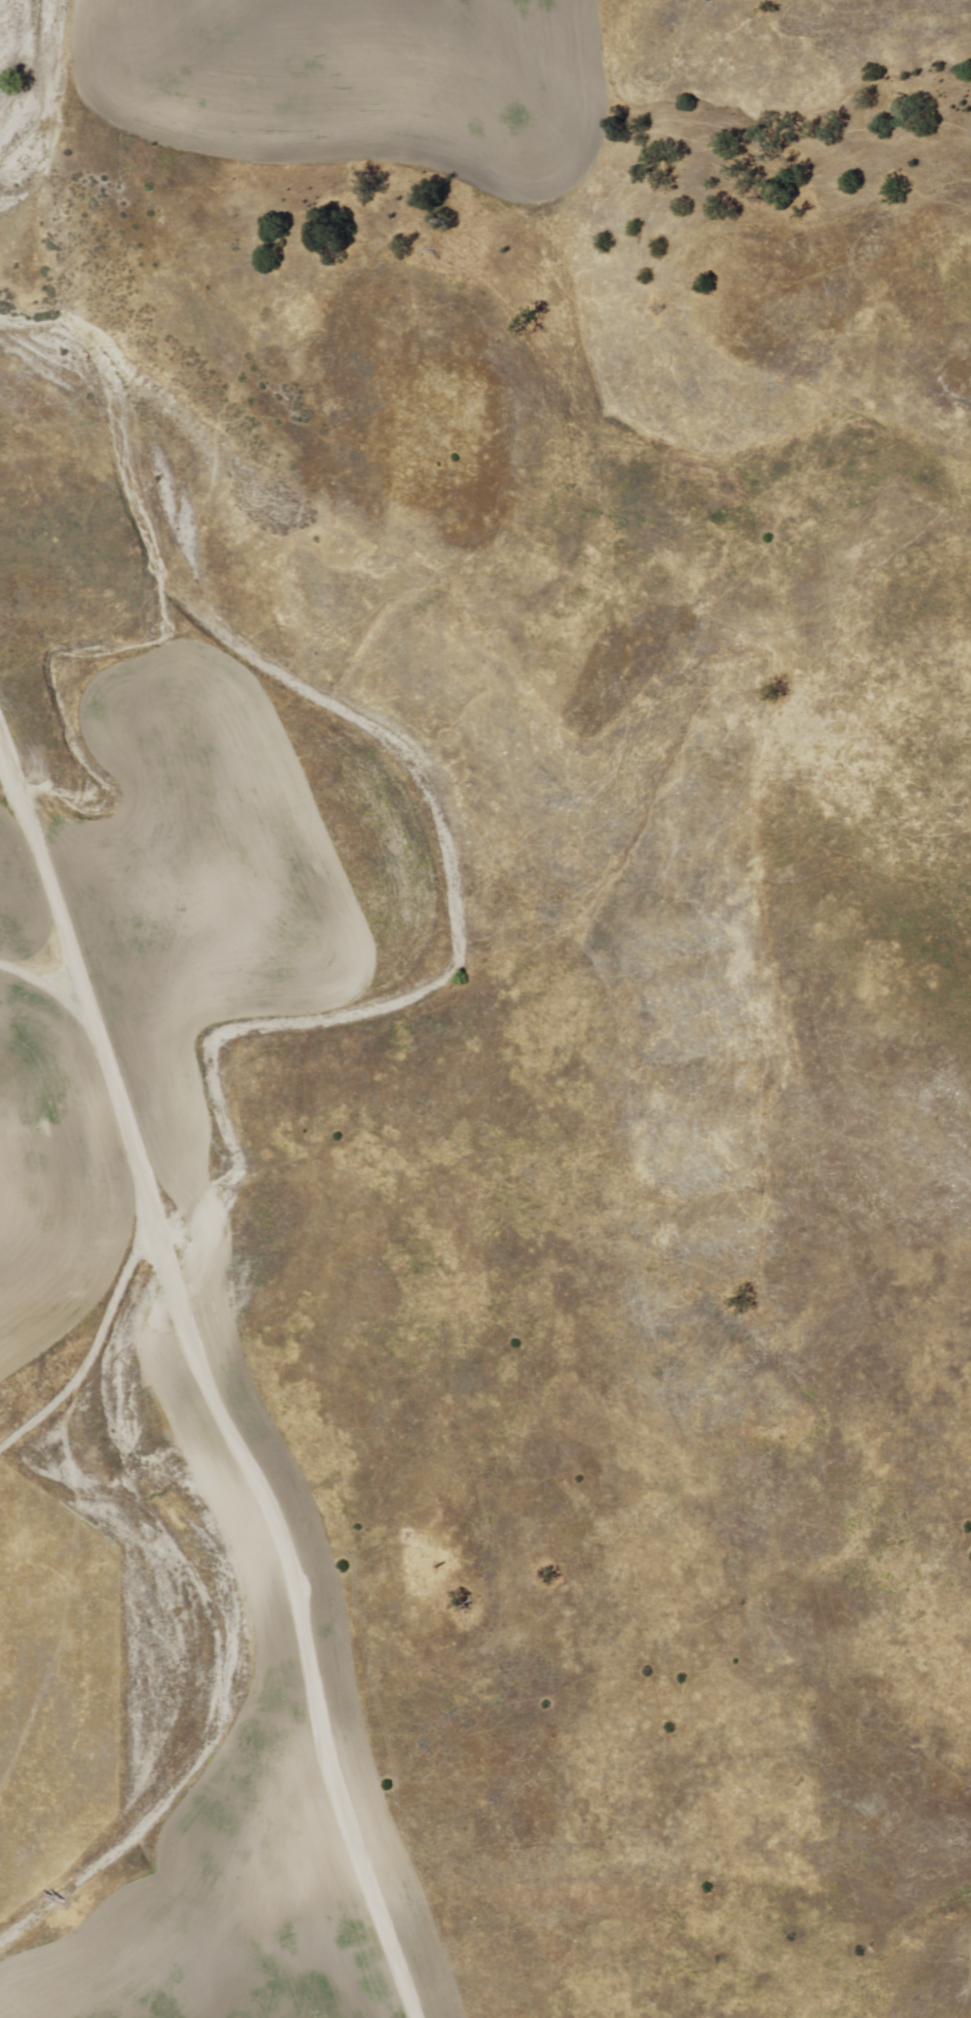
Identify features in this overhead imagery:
road: (45, 976)
road: (209, 1385)

